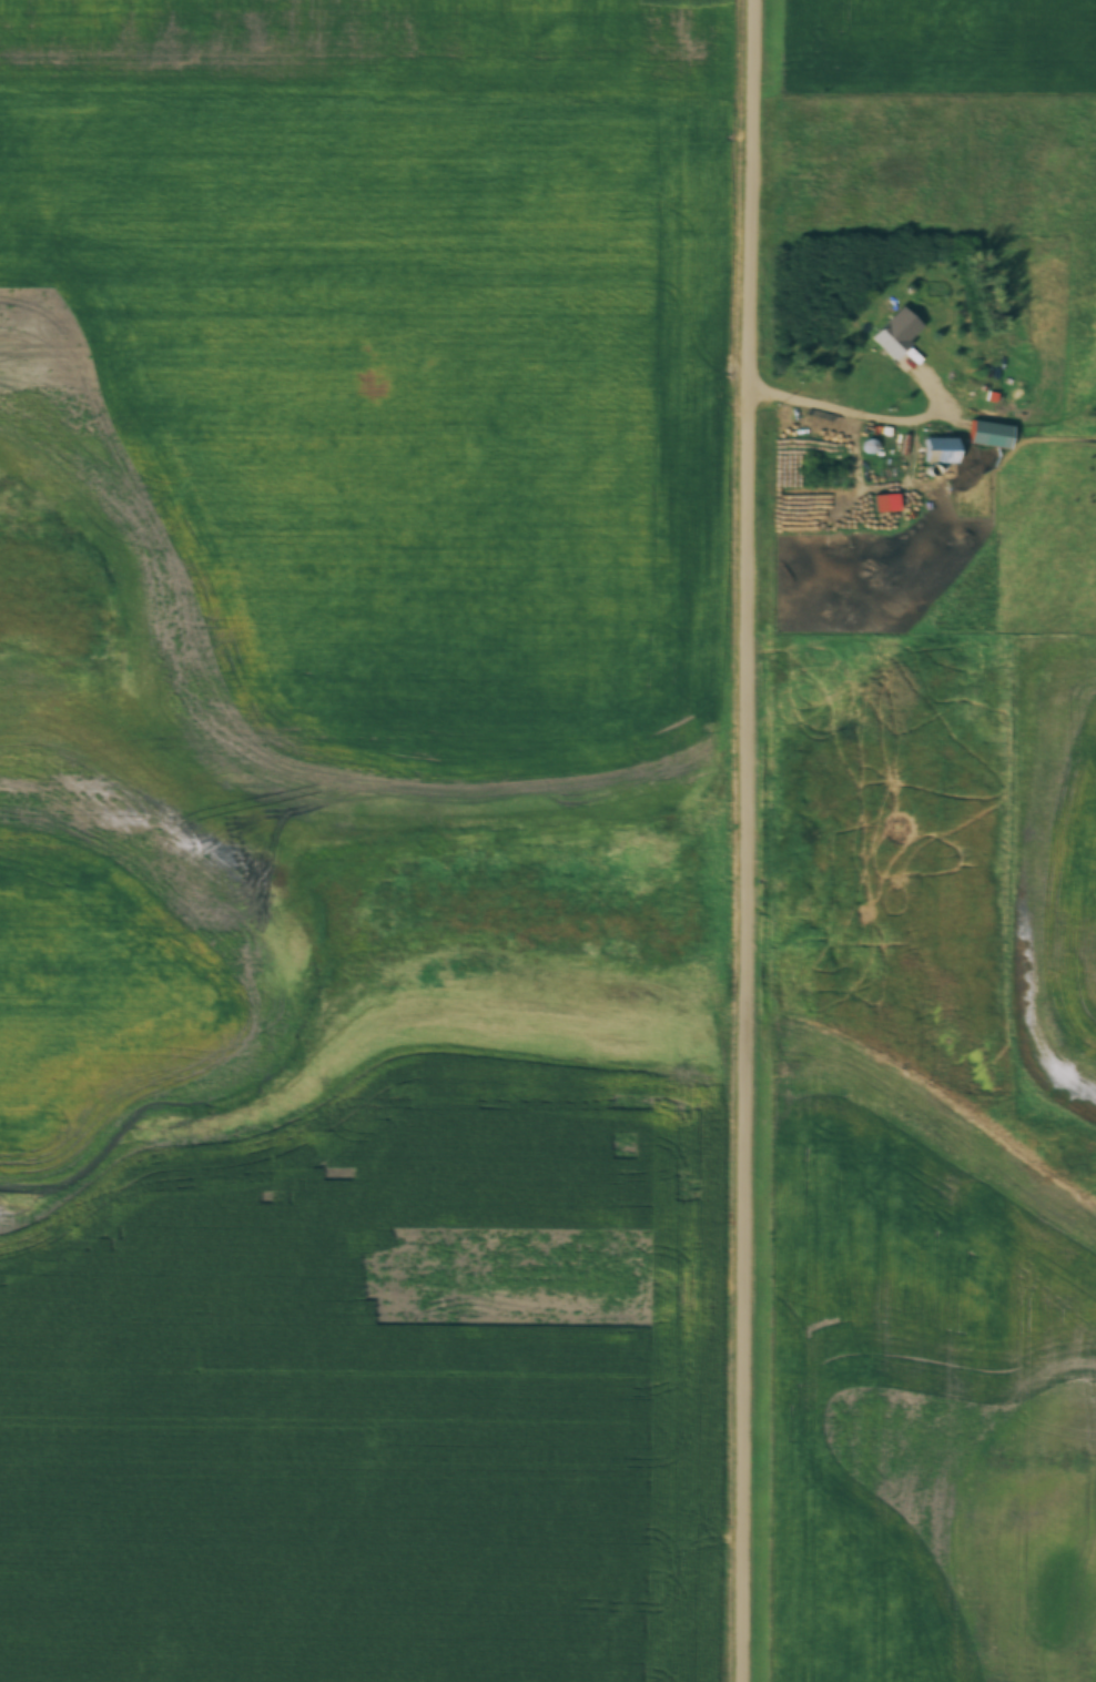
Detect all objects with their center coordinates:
building: (886, 341)
building: (936, 452)
road: (745, 840)

